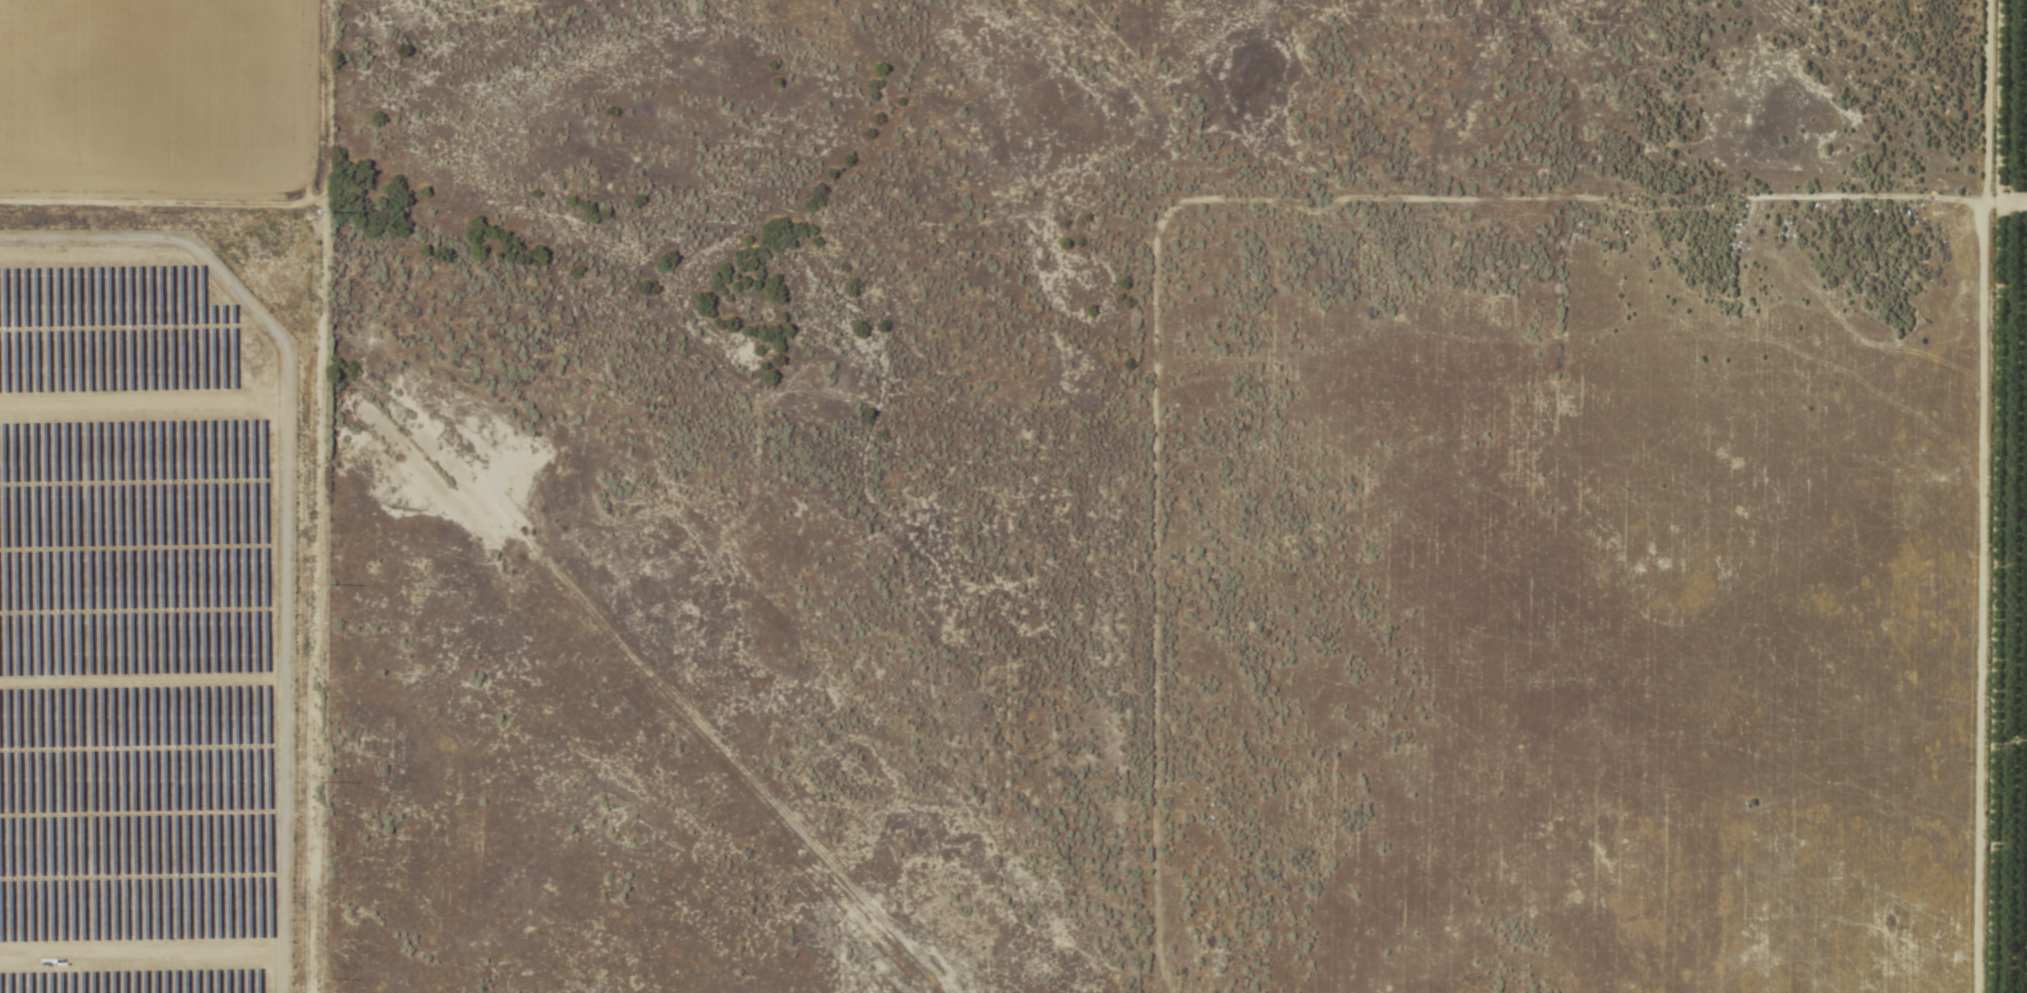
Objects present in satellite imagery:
crop: (165, 102)
solar farm: (145, 616)

